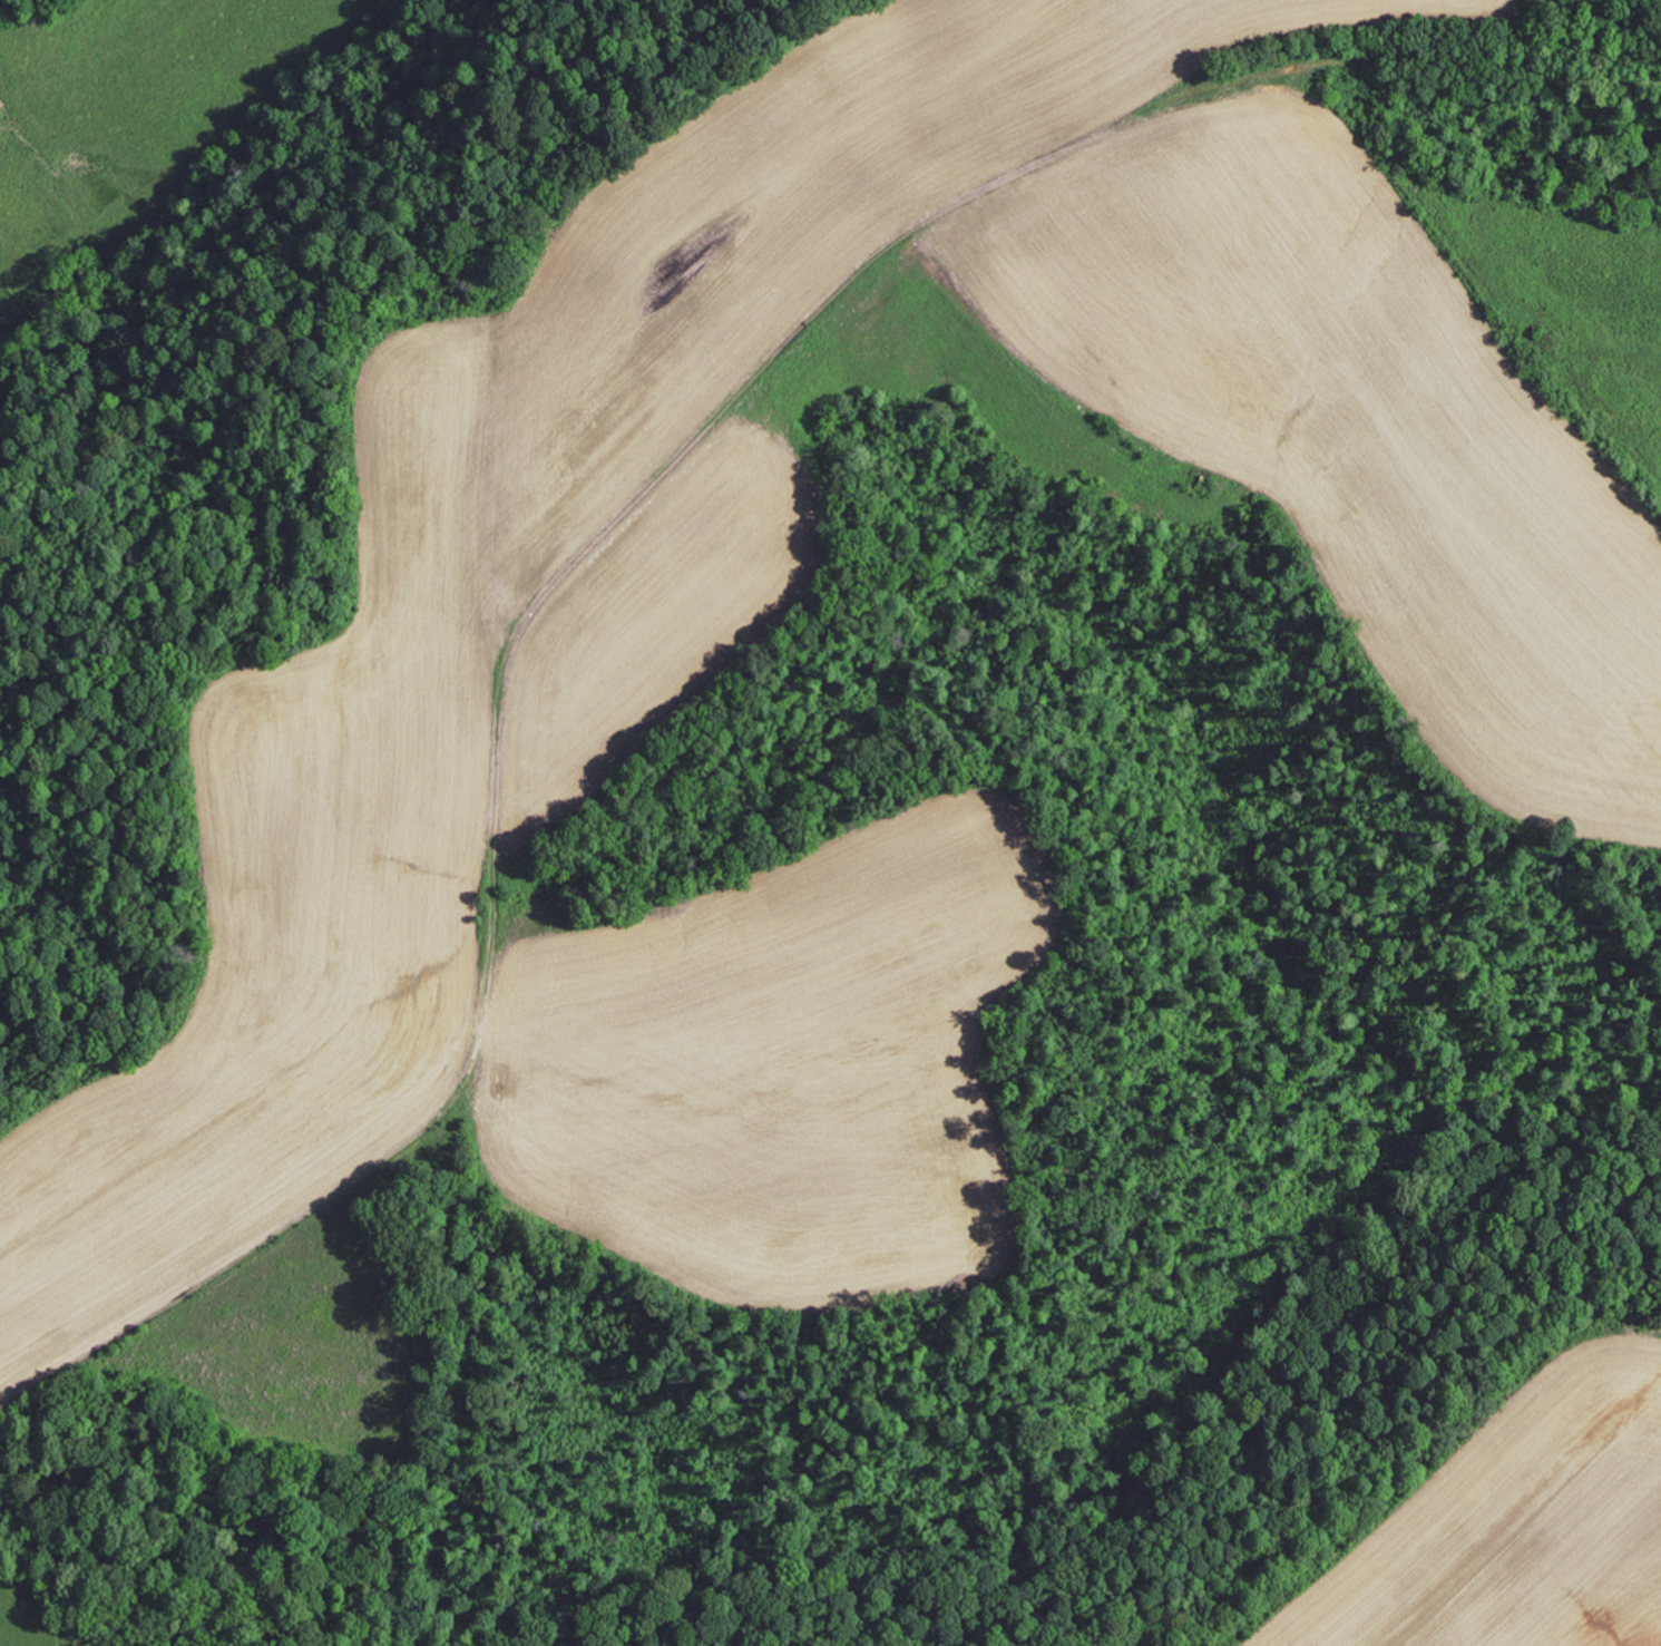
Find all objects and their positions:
road: (1655, 0)
road: (1532, 80)
road: (575, 559)

